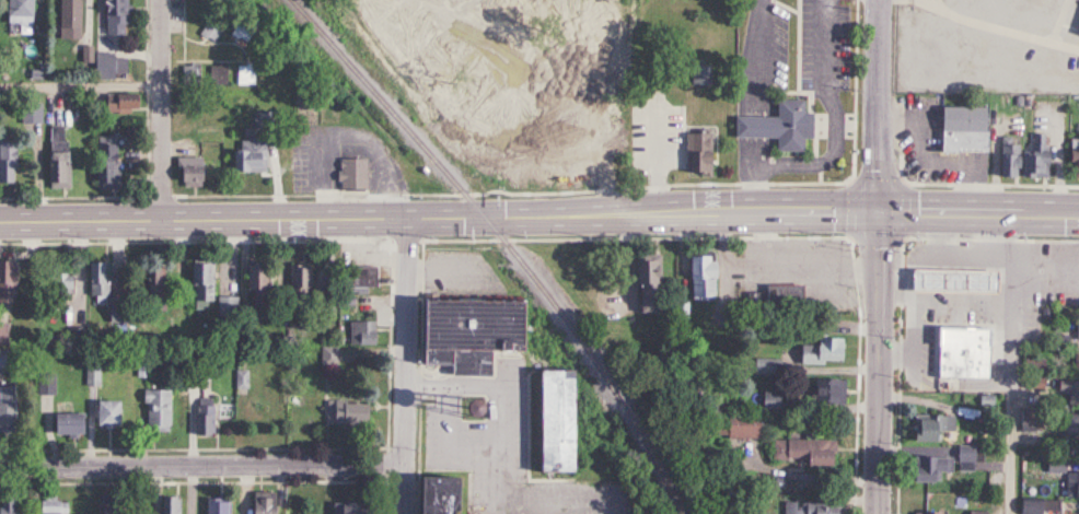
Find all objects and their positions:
road: (931, 2)
building: (14, 12)
building: (63, 16)
building: (111, 17)
building: (1077, 31)
road: (976, 32)
building: (105, 67)
road: (34, 100)
building: (115, 104)
road: (877, 105)
road: (158, 109)
building: (26, 114)
building: (775, 126)
building: (959, 129)
road: (834, 137)
road: (343, 143)
building: (244, 153)
building: (696, 153)
building: (1007, 156)
building: (53, 159)
building: (1072, 159)
building: (102, 162)
building: (4, 164)
building: (185, 171)
building: (350, 173)
traffic signals: (875, 210)
road: (539, 217)
railway: (501, 244)
building: (1065, 270)
building: (298, 276)
building: (697, 276)
building: (358, 278)
building: (93, 279)
building: (197, 280)
building: (4, 281)
building: (144, 282)
building: (252, 284)
building: (54, 287)
building: (643, 287)
building: (948, 290)
building: (778, 295)
road: (916, 304)
building: (222, 306)
building: (1075, 330)
building: (465, 331)
building: (360, 334)
building: (1, 336)
building: (959, 346)
building: (817, 352)
building: (0, 357)
building: (325, 357)
road: (1011, 361)
road: (875, 362)
building: (1074, 364)
road: (402, 366)
building: (1030, 367)
building: (46, 388)
building: (825, 392)
building: (1068, 392)
building: (767, 400)
building: (5, 409)
building: (152, 411)
building: (345, 412)
building: (102, 414)
building: (199, 417)
road: (511, 421)
building: (547, 421)
building: (1068, 424)
building: (734, 425)
building: (63, 427)
building: (923, 429)
building: (801, 452)
building: (940, 465)
road: (201, 469)
building: (1065, 480)
building: (432, 495)
building: (258, 503)
building: (8, 505)
building: (47, 505)
building: (166, 505)
building: (217, 507)
building: (341, 507)
building: (805, 507)
building: (1025, 507)
building: (1056, 507)
building: (973, 513)

